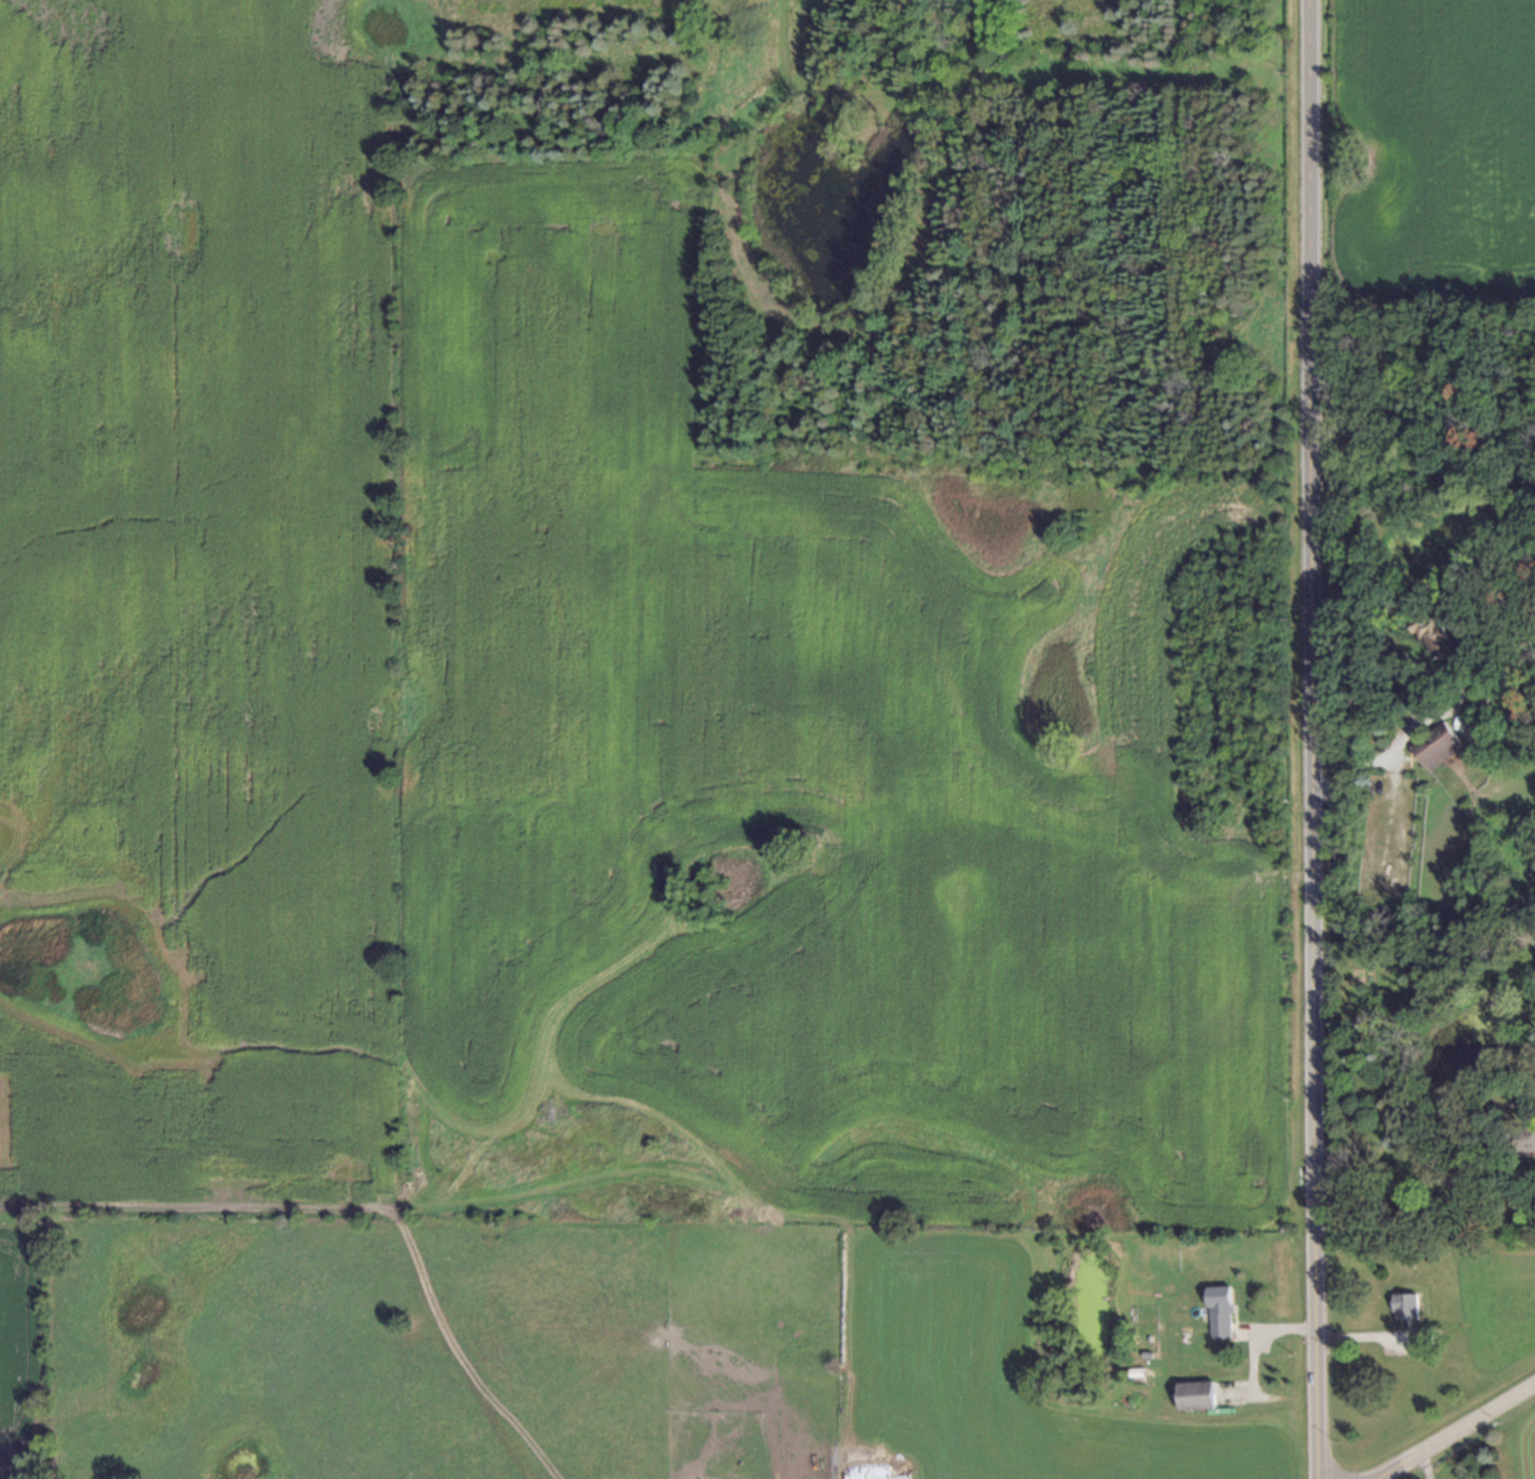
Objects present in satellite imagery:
building: (1438, 634)
road: (1313, 739)
building: (1436, 746)
road: (1384, 753)
building: (1512, 1135)
building: (1461, 1244)
building: (1405, 1305)
building: (1221, 1313)
road: (1261, 1330)
building: (1143, 1355)
building: (1132, 1369)
building: (1197, 1396)
road: (1457, 1430)

